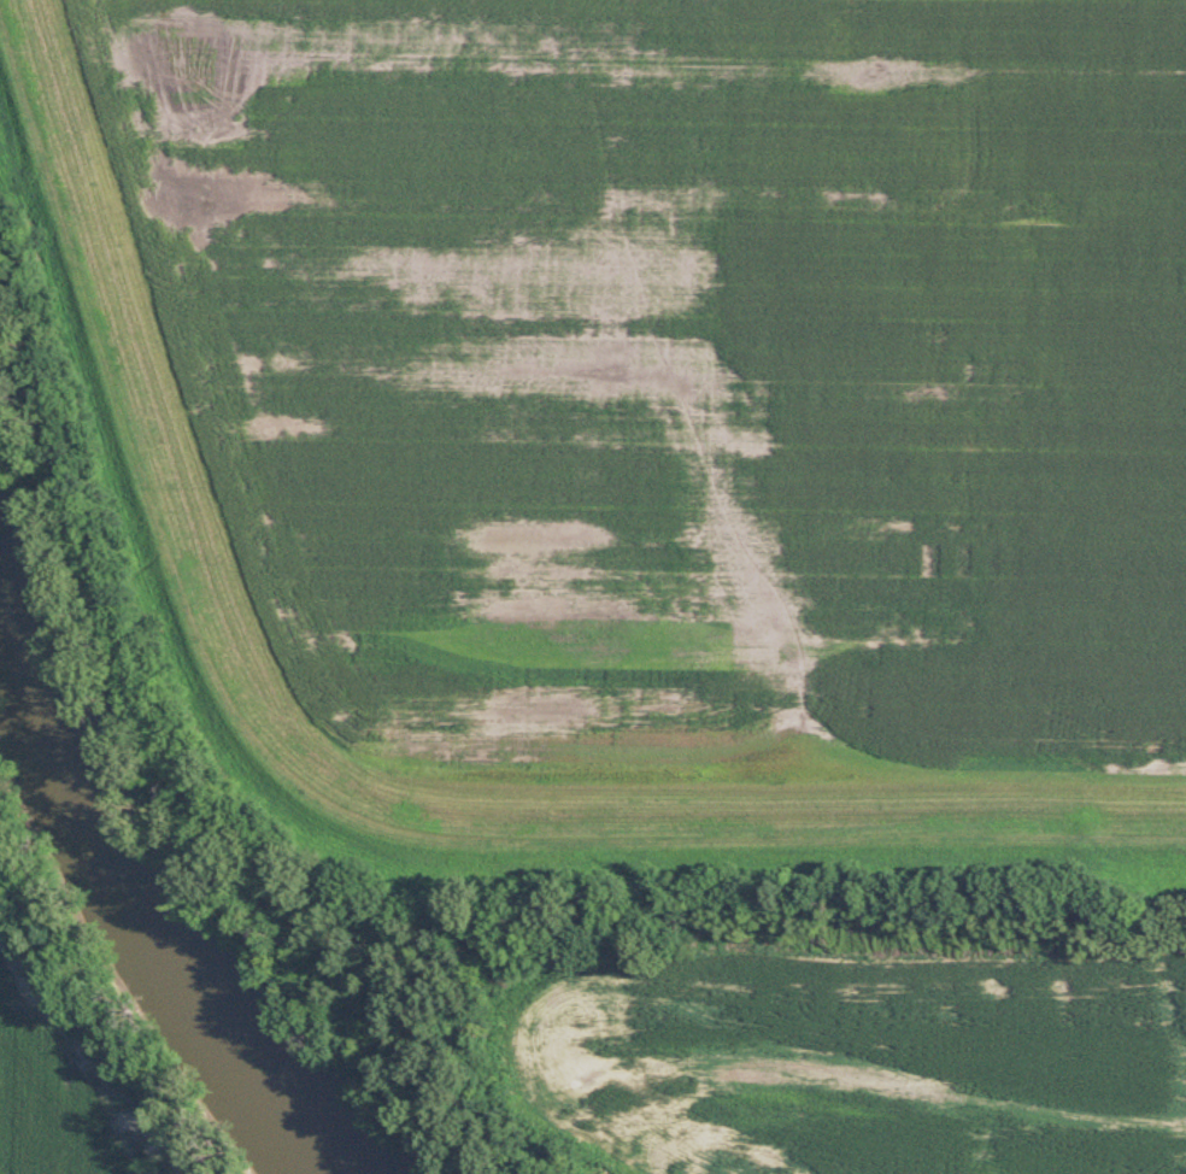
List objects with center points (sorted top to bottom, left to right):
crop: (675, 344)
river: (147, 888)

